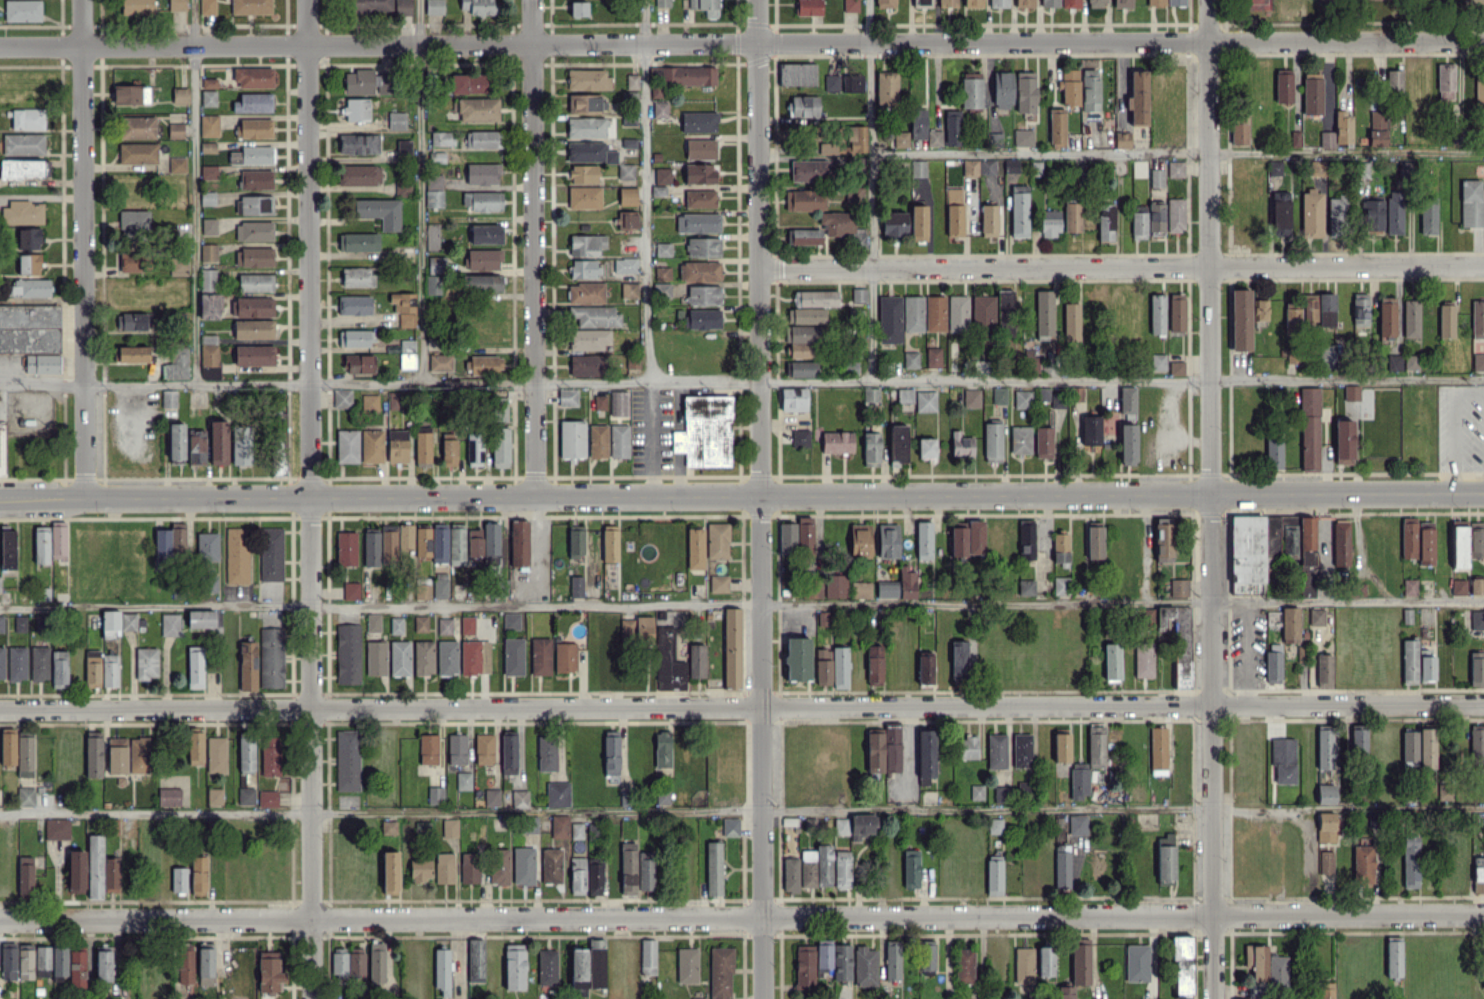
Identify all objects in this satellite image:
park: (1258, 4)
park: (1350, 15)
road: (741, 42)
building: (1445, 81)
building: (1479, 95)
road: (1177, 152)
road: (871, 189)
road: (421, 190)
road: (647, 190)
road: (193, 191)
building: (1471, 203)
road: (1210, 246)
road: (306, 248)
road: (533, 248)
road: (757, 248)
road: (82, 249)
road: (1121, 267)
building: (1477, 318)
building: (1446, 320)
building: (1478, 362)
road: (741, 381)
road: (1469, 390)
parking lot: (1461, 423)
road: (651, 438)
road: (1455, 441)
road: (1121, 493)
road: (379, 497)
building: (1476, 542)
building: (1459, 546)
building: (1476, 585)
building: (1458, 586)
road: (742, 606)
building: (1473, 621)
building: (1476, 668)
road: (742, 706)
road: (1212, 746)
building: (1477, 746)
road: (760, 747)
road: (308, 748)
road: (741, 809)
building: (1478, 874)
road: (742, 917)
building: (1136, 962)

